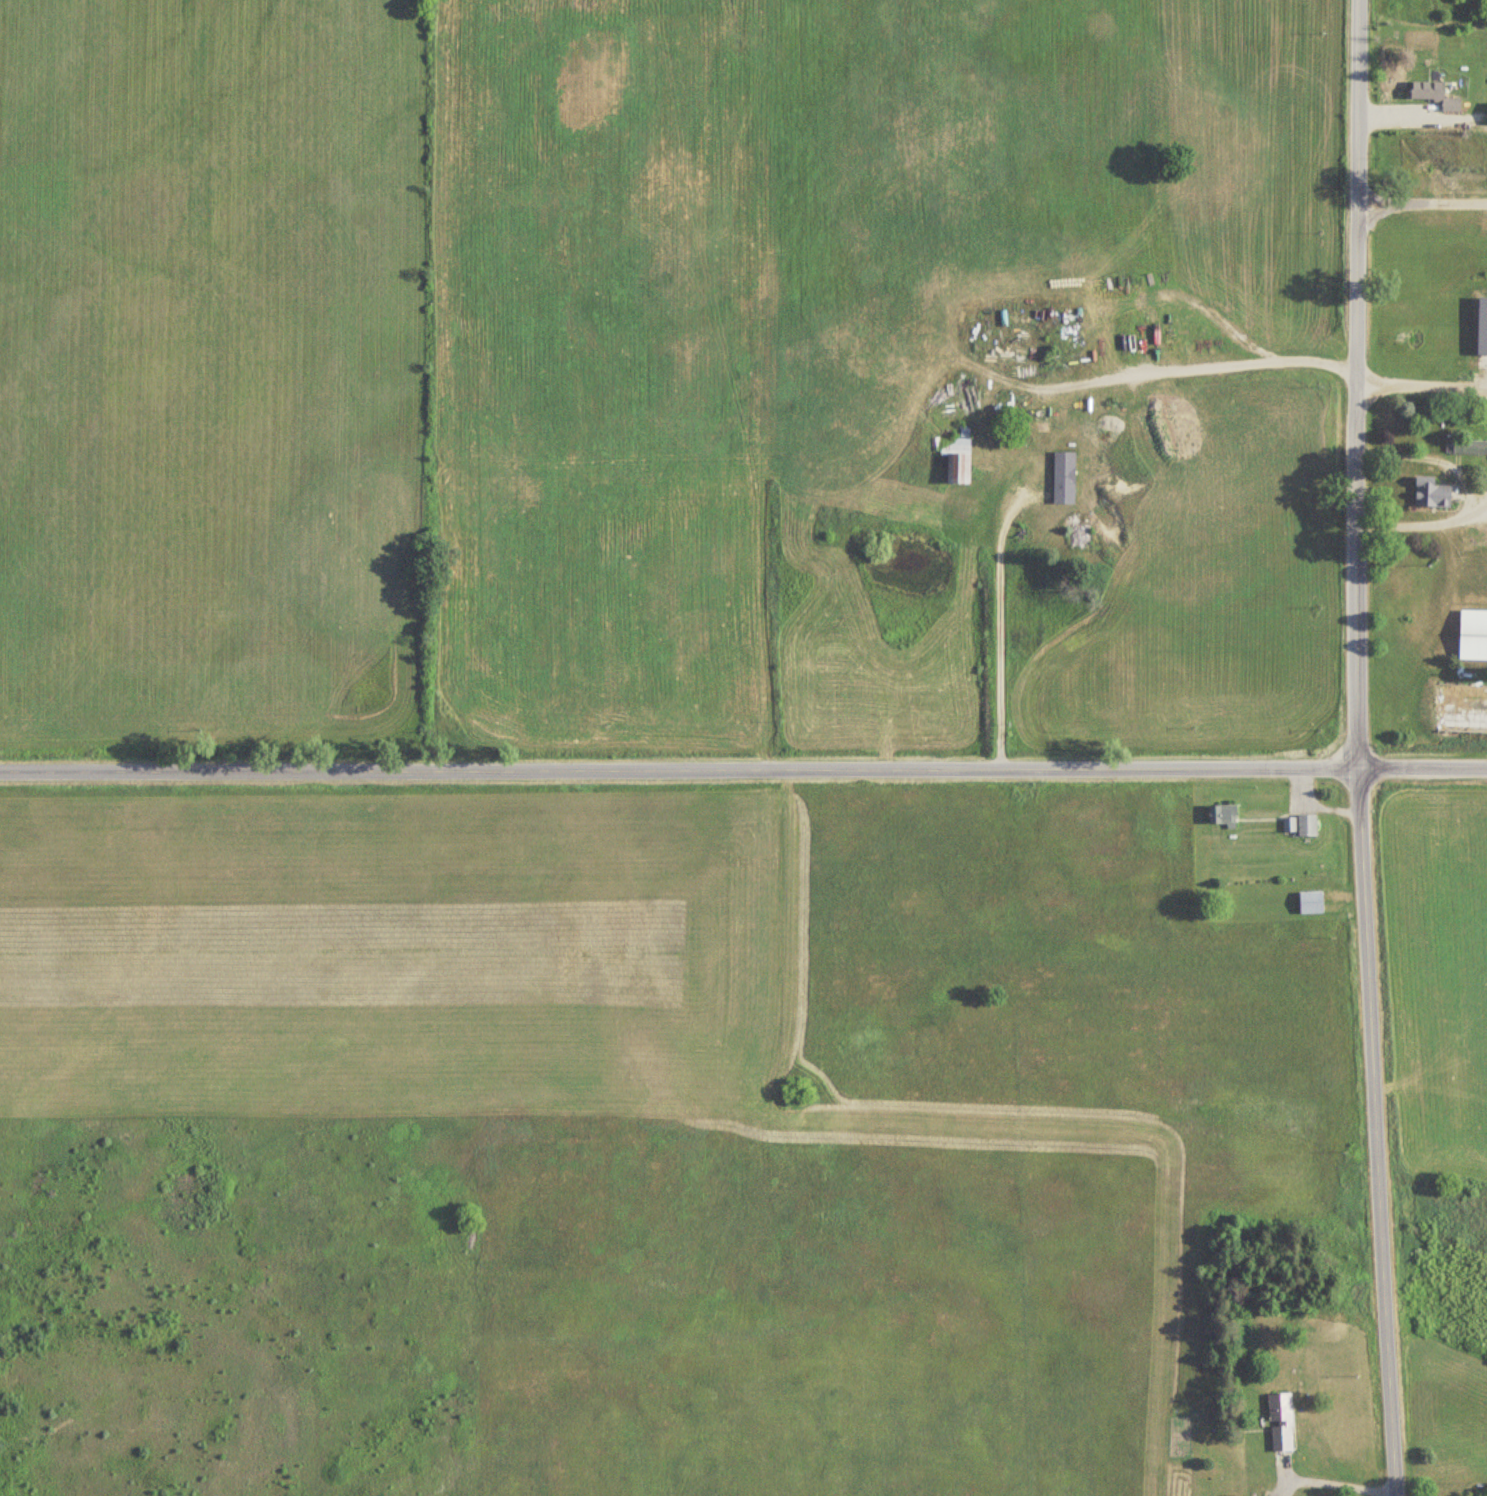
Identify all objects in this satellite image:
building: (1436, 95)
road: (1424, 200)
building: (1193, 340)
road: (1165, 369)
road: (1423, 384)
building: (1070, 417)
building: (1103, 437)
building: (1467, 448)
road: (1431, 456)
building: (959, 460)
building: (1434, 494)
road: (1423, 522)
building: (1081, 534)
building: (1486, 545)
road: (1000, 629)
building: (1474, 631)
road: (1355, 748)
road: (743, 770)
building: (1223, 815)
building: (1290, 825)
building: (1308, 826)
building: (1312, 903)
building: (1282, 1423)
road: (1335, 1487)

